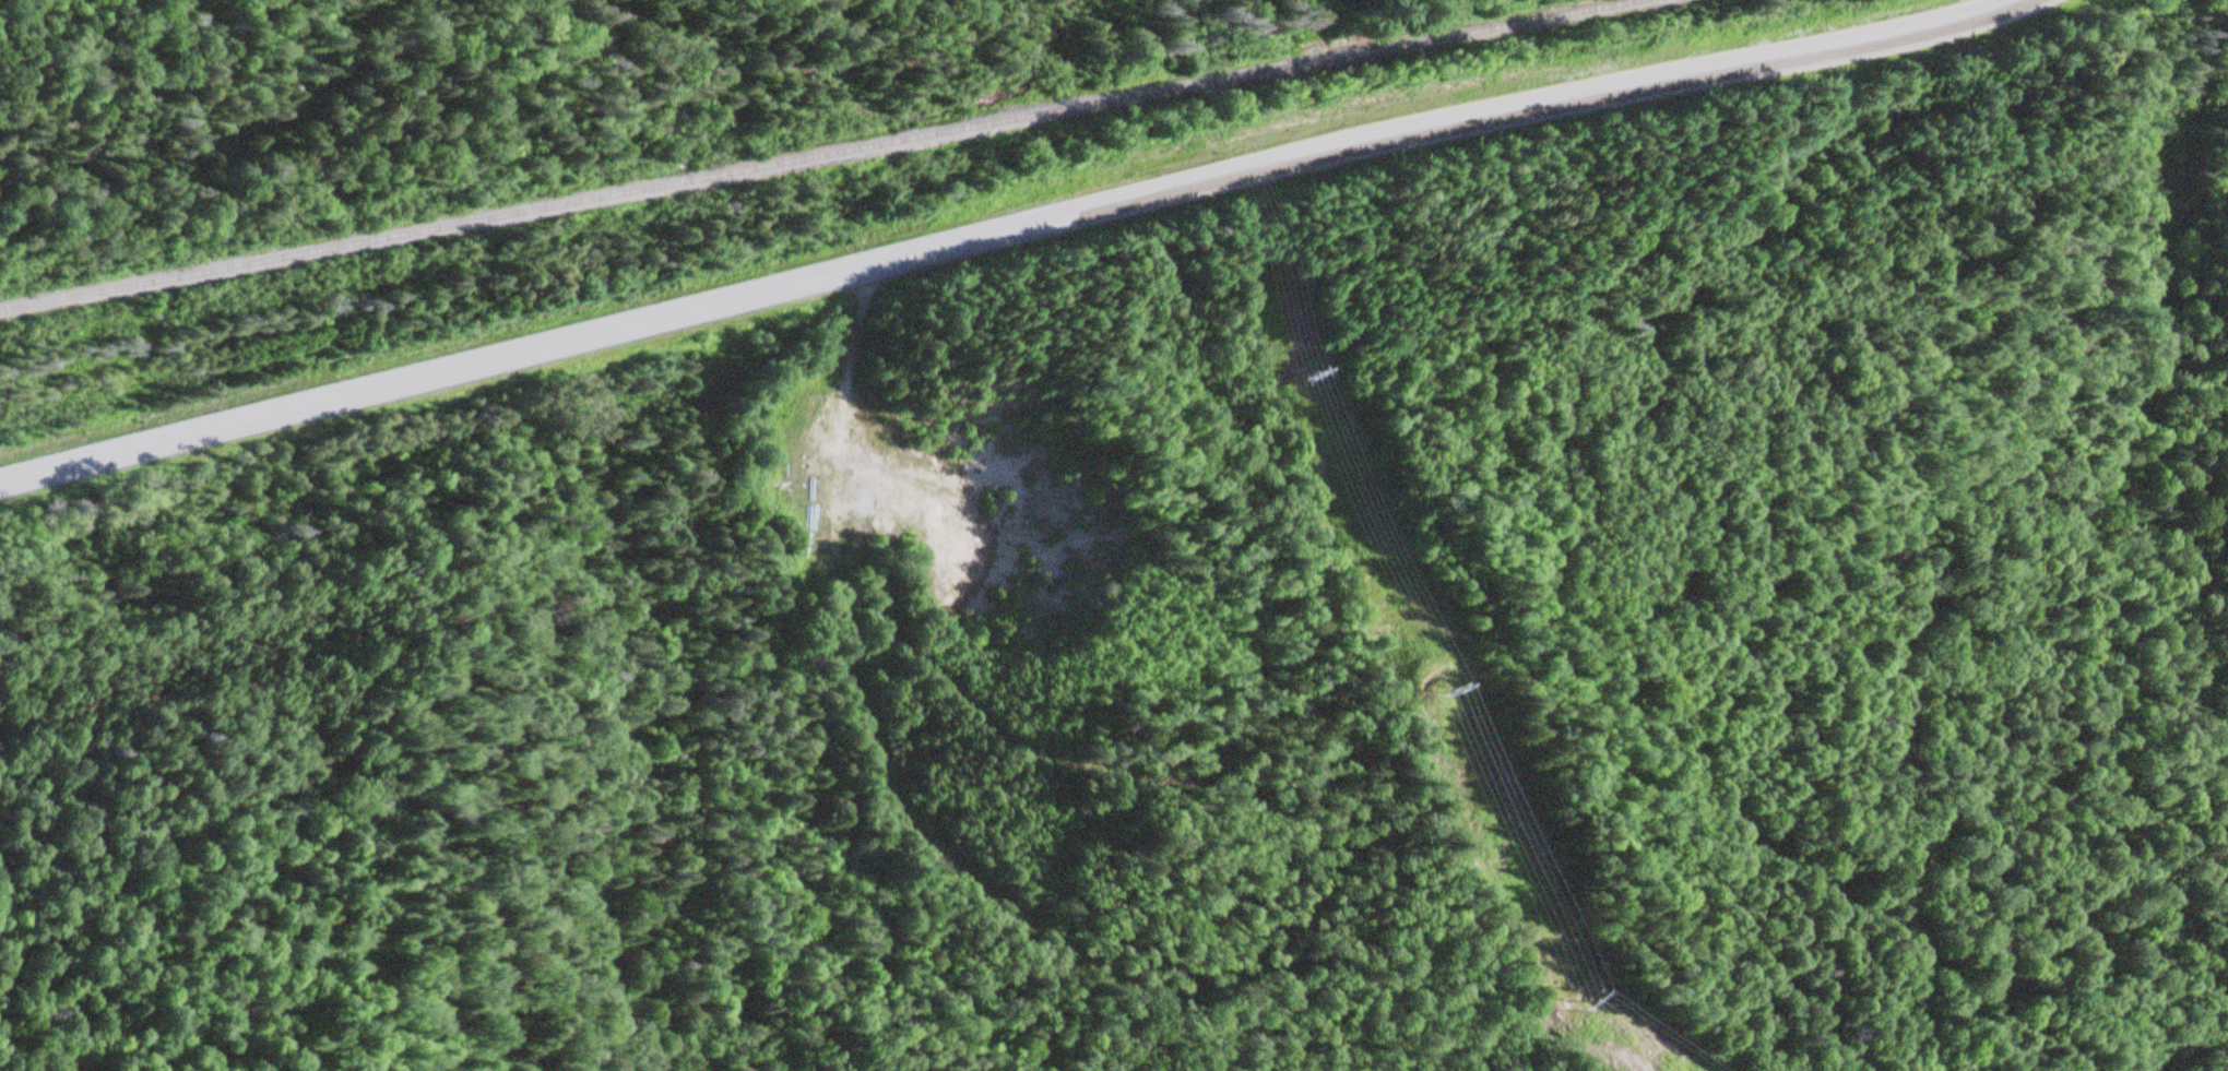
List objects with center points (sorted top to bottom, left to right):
river: (651, 32)
river: (960, 108)
river: (245, 153)
railway: (827, 157)
park: (1965, 192)
road: (1008, 231)
power tower: (1296, 374)
power tower: (1437, 693)
power tower: (1567, 1002)

